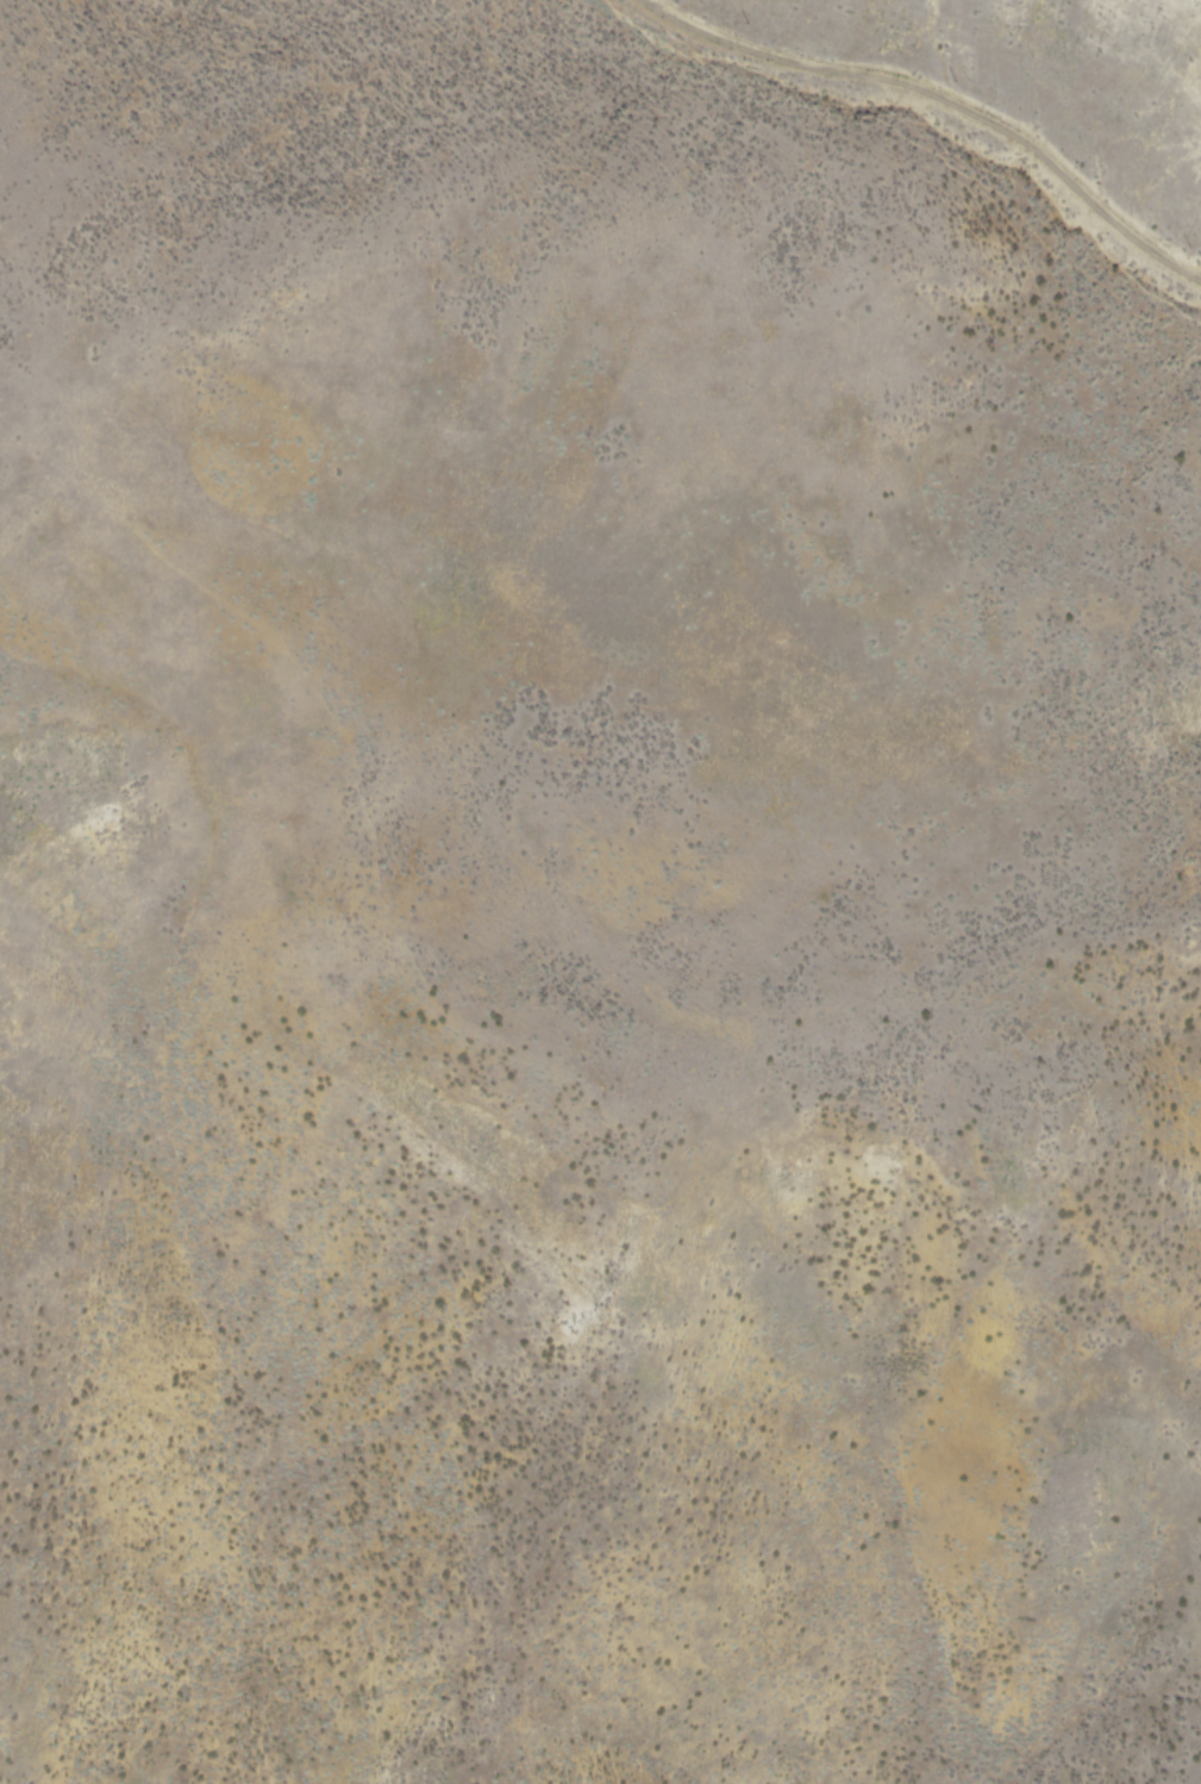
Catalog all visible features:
road: (945, 96)

